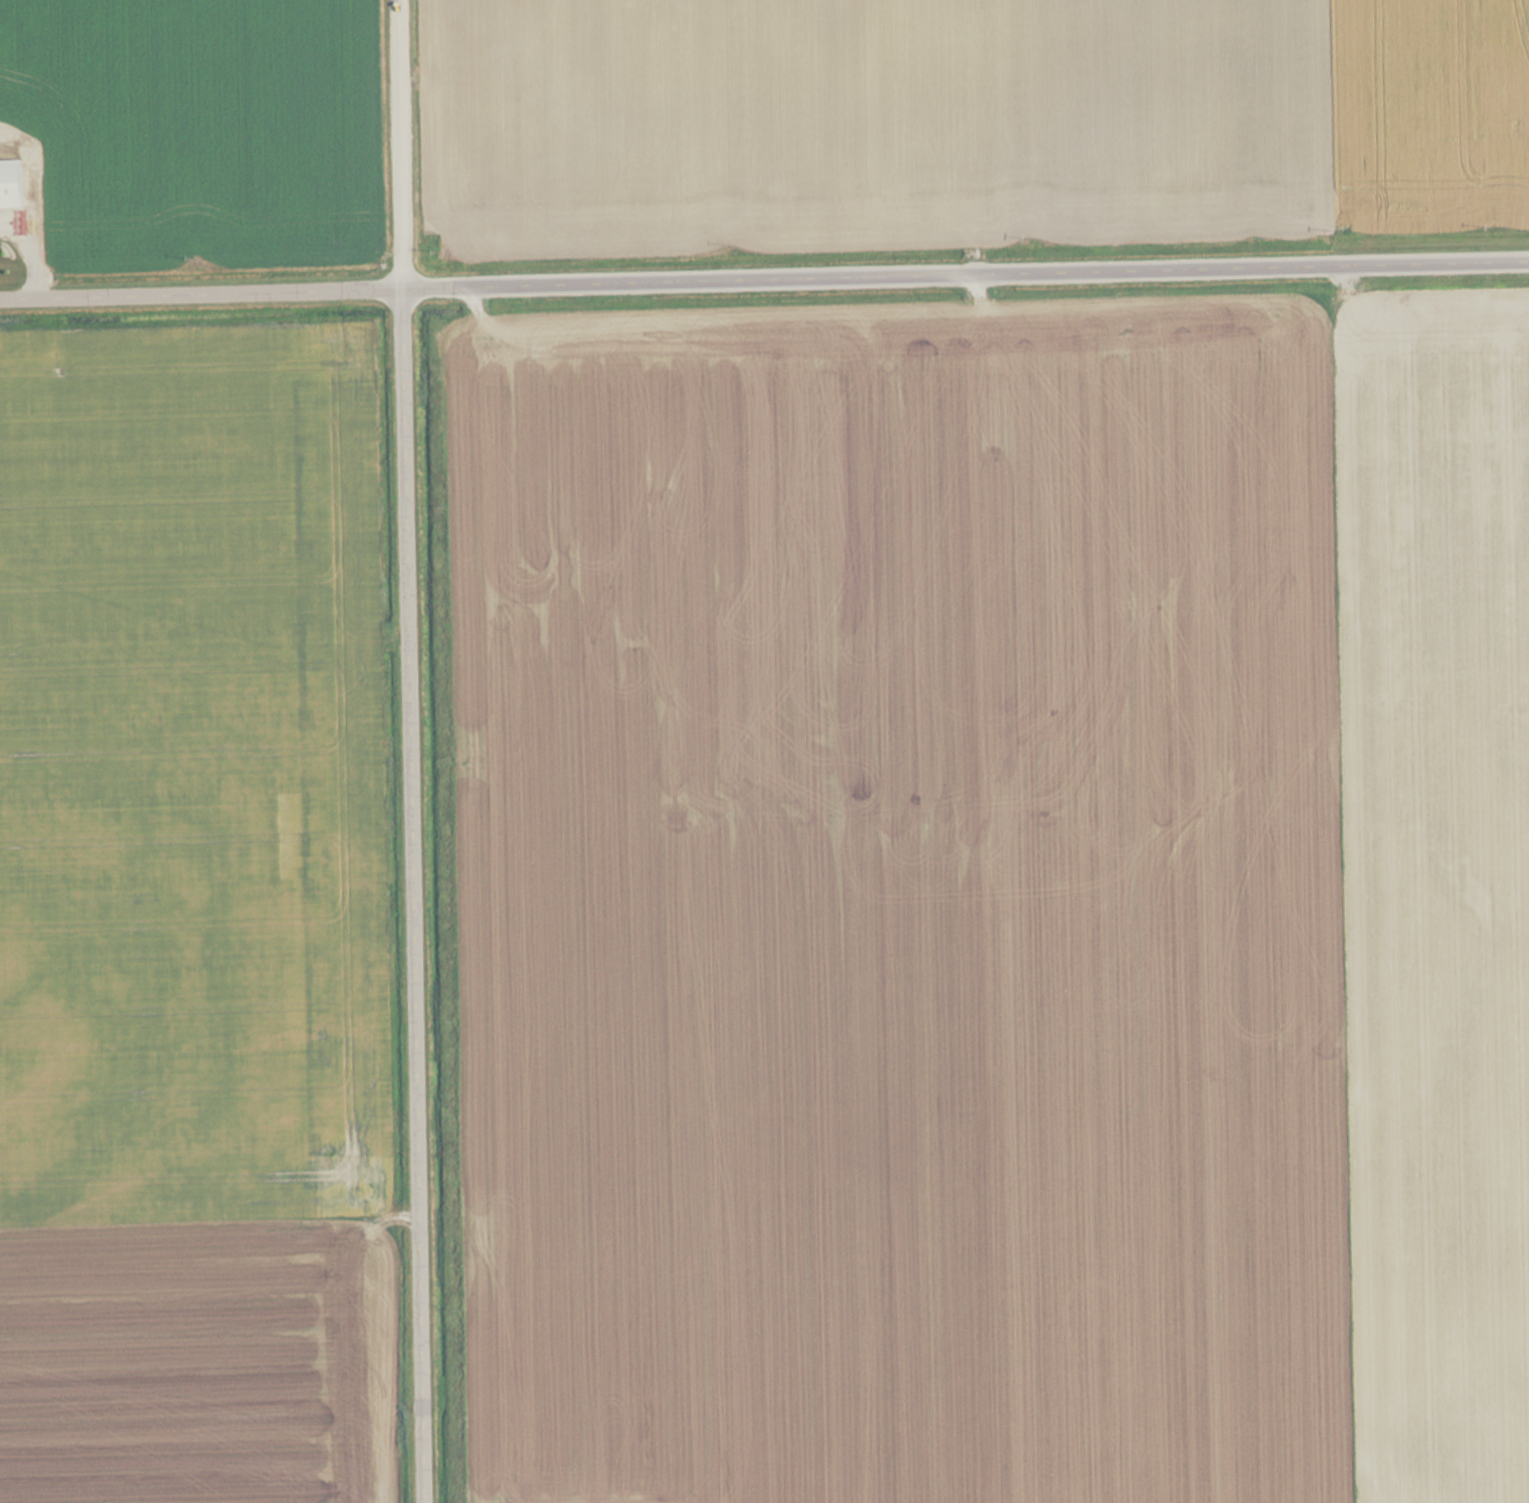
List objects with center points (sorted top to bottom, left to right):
building: (12, 183)
road: (764, 278)
road: (421, 751)

